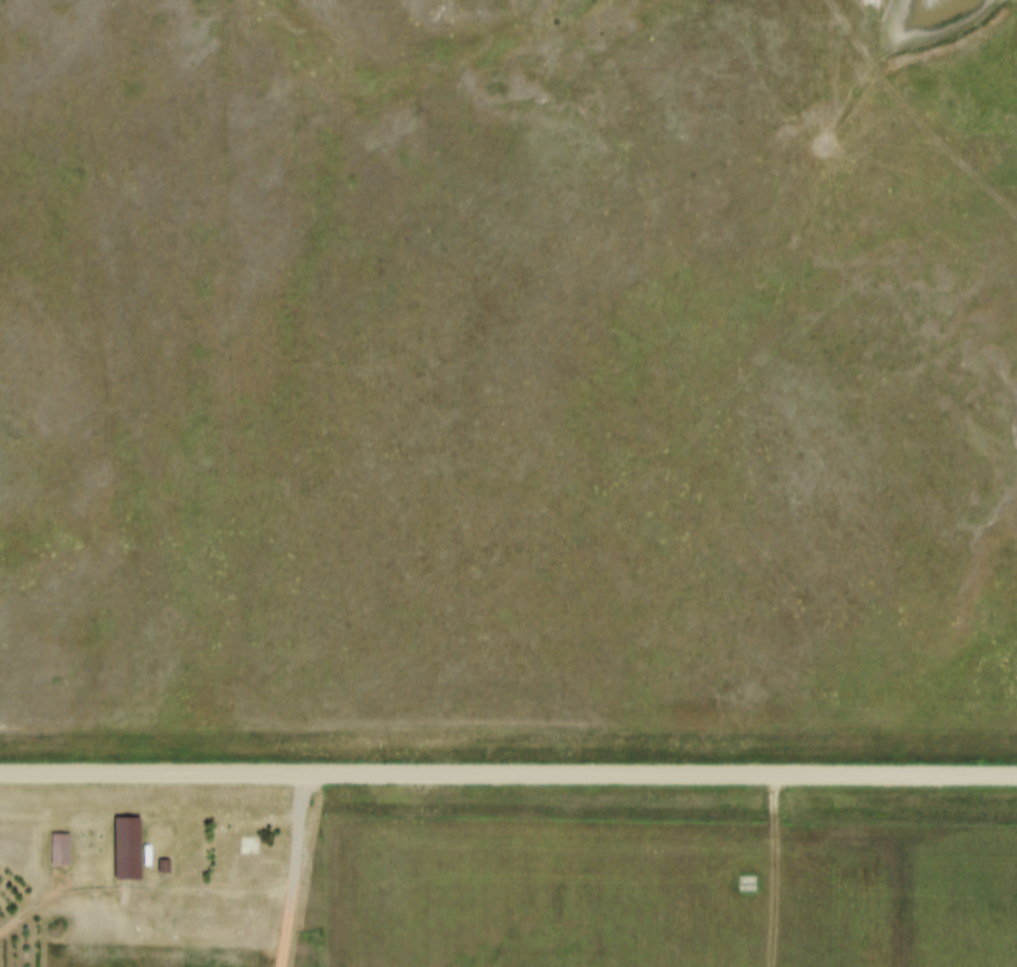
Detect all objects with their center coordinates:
road: (911, 117)
road: (508, 775)
building: (130, 824)
building: (252, 836)
building: (62, 840)
road: (297, 872)
road: (219, 893)
road: (57, 896)

